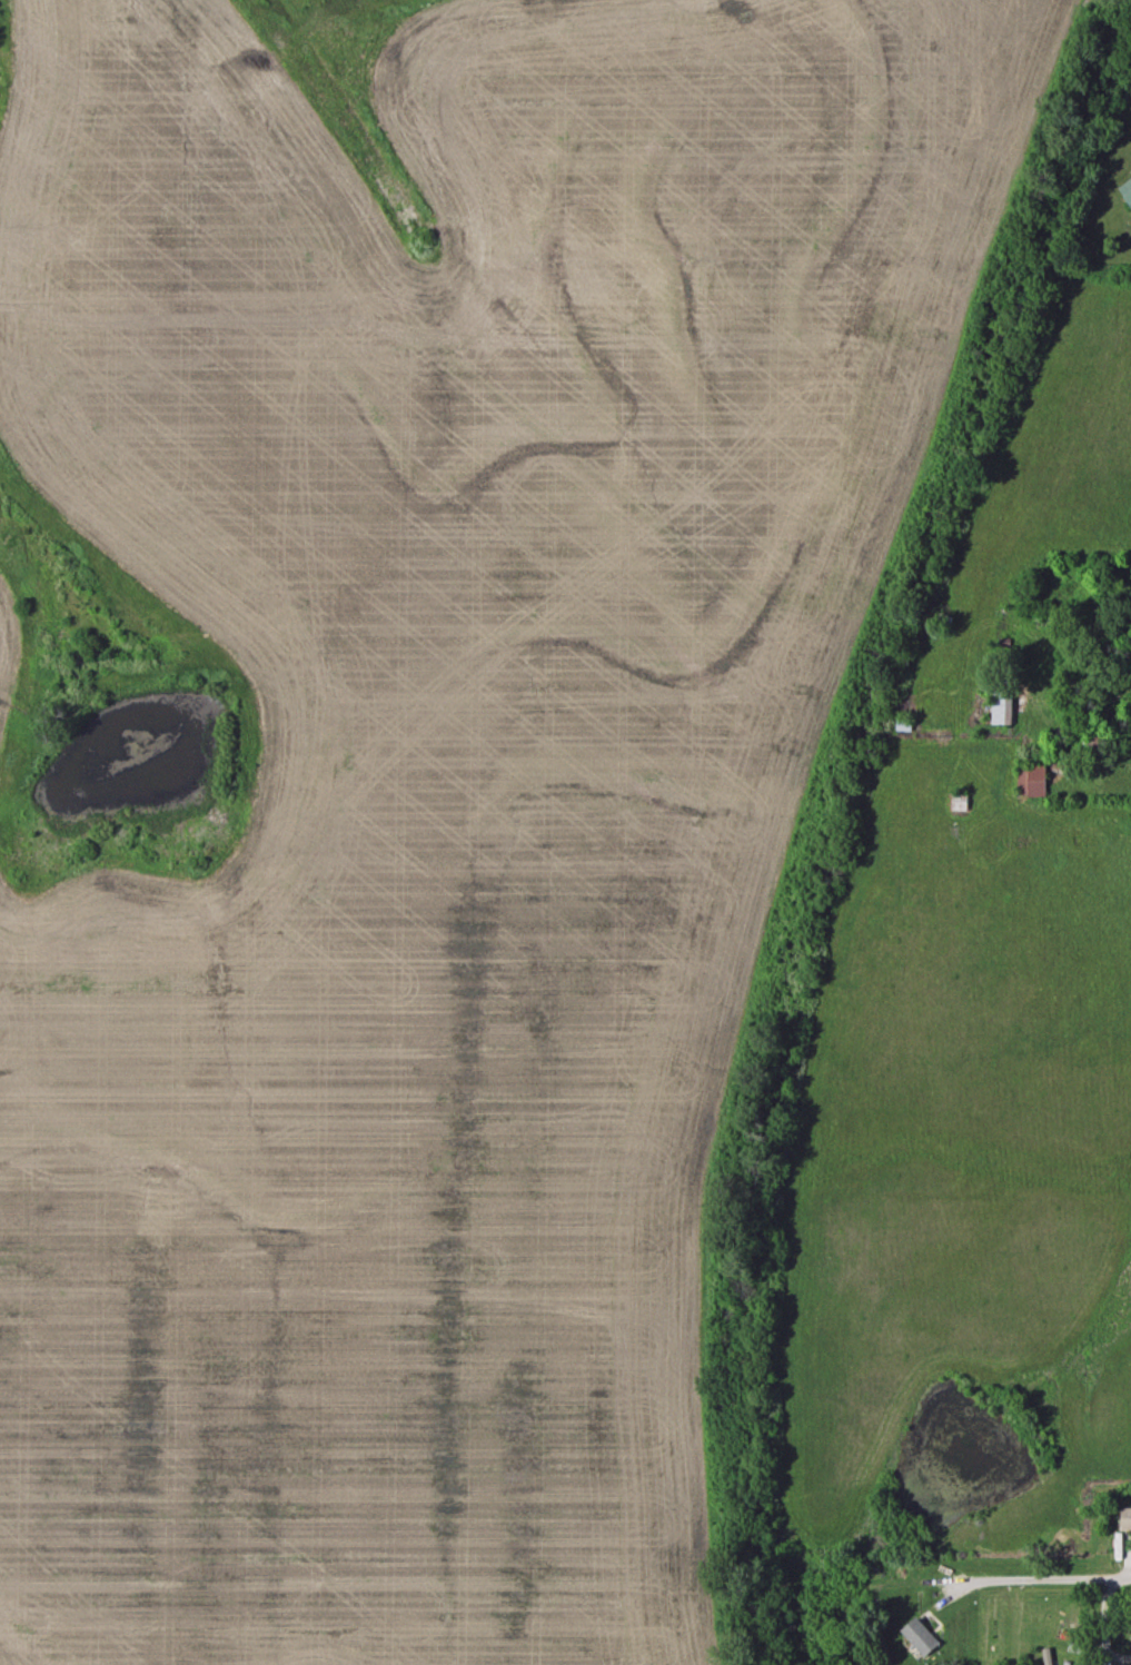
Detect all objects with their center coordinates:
building: (1125, 194)
building: (1001, 706)
building: (903, 726)
road: (1028, 755)
building: (1030, 782)
building: (958, 803)
building: (1124, 1520)
road: (1038, 1579)
building: (919, 1638)

